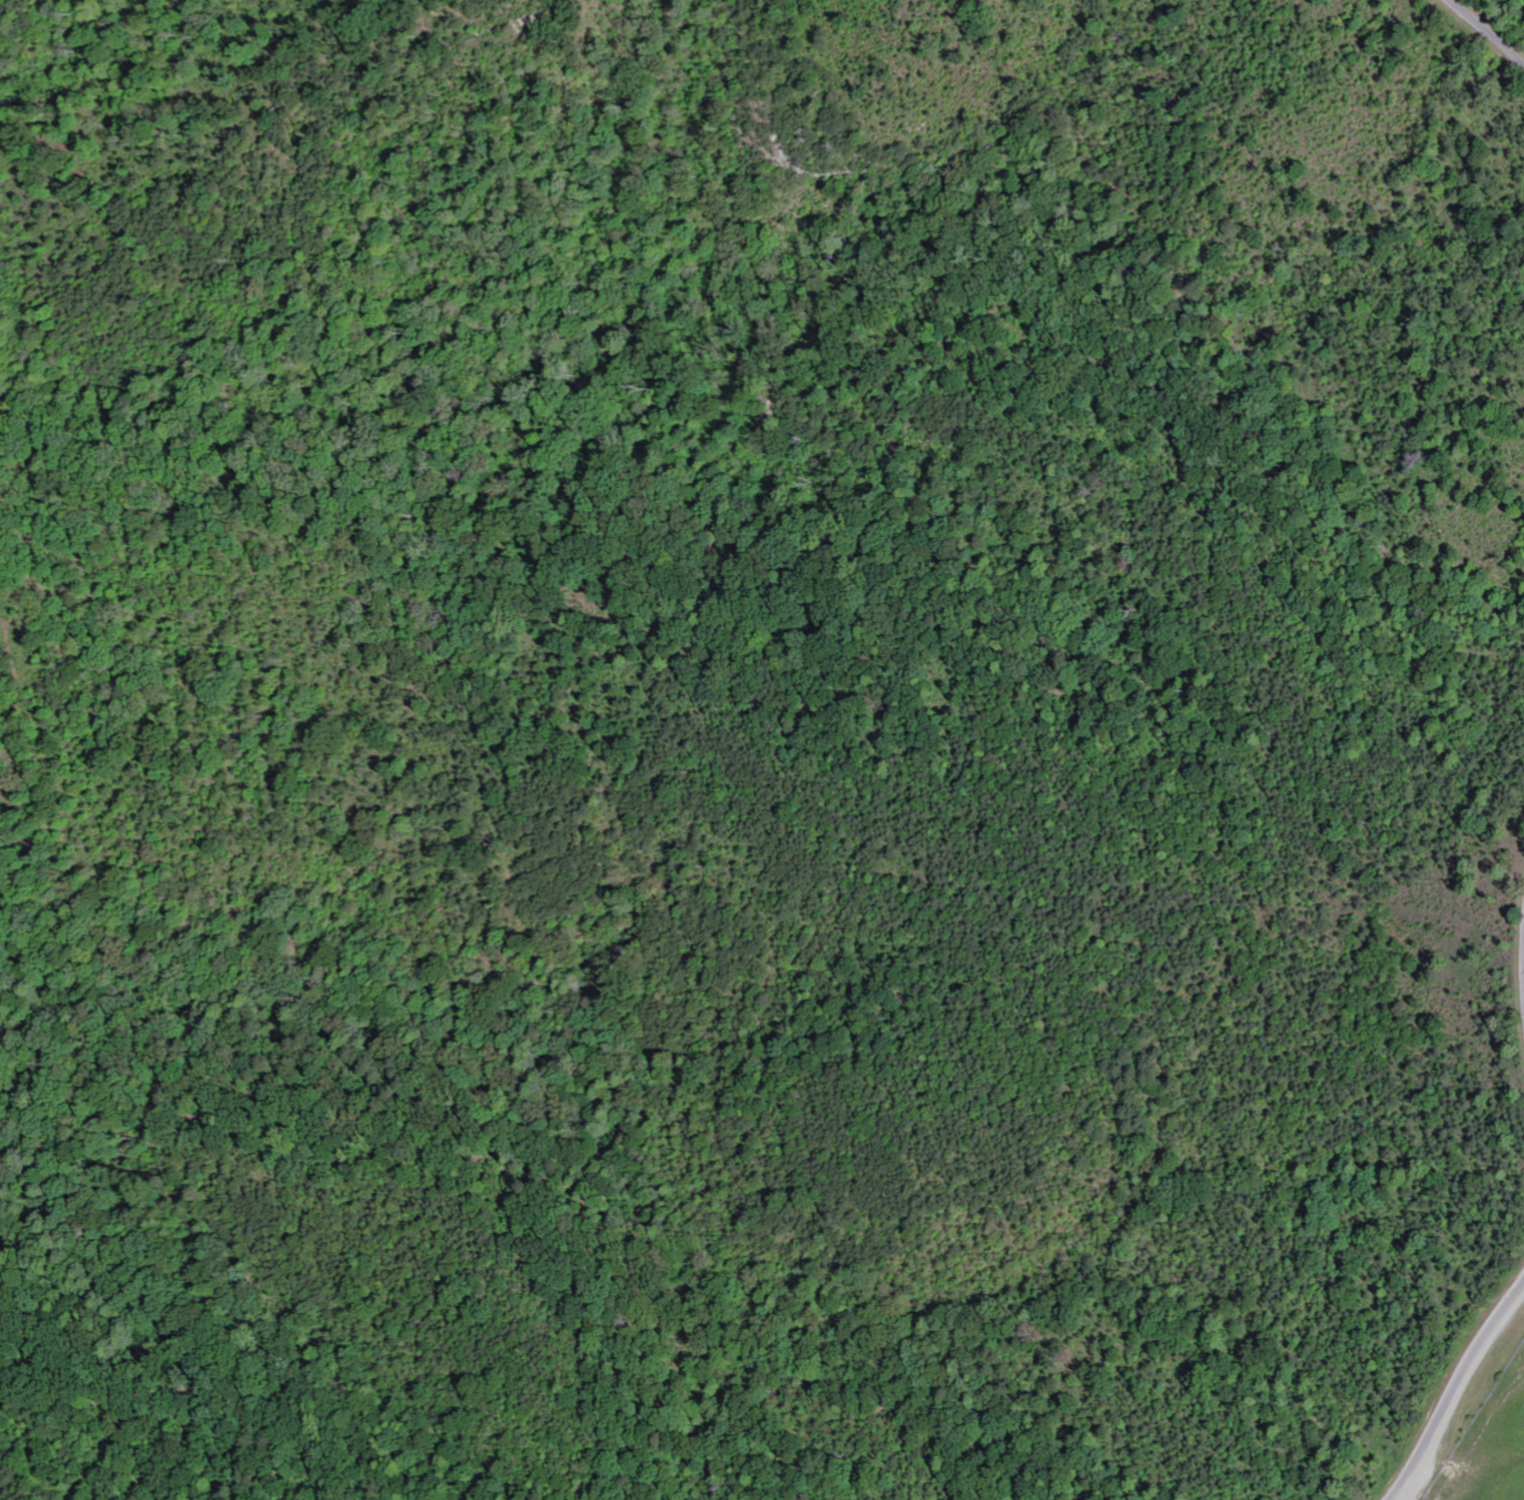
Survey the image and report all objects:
road: (1492, 29)
road: (1455, 1389)
airport: (1490, 1447)

